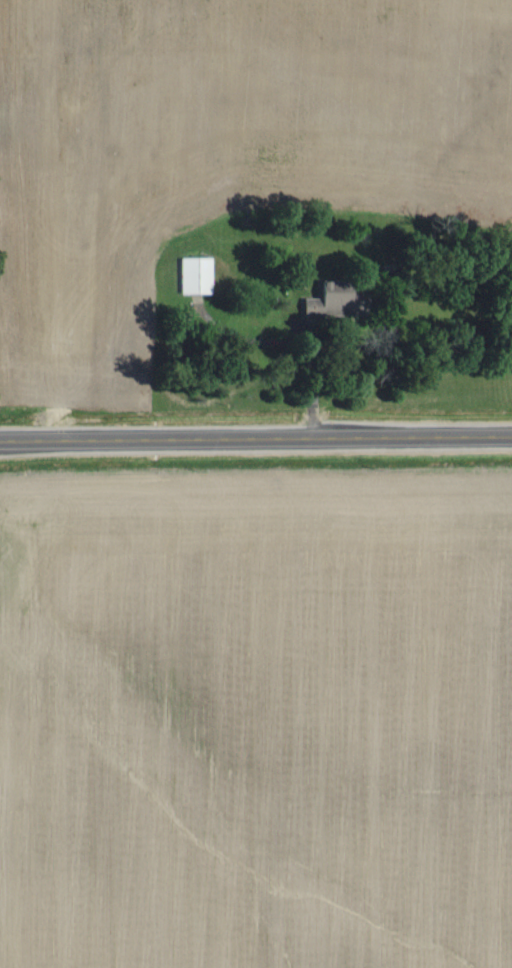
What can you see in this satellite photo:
building: (193, 274)
road: (106, 290)
road: (255, 439)

